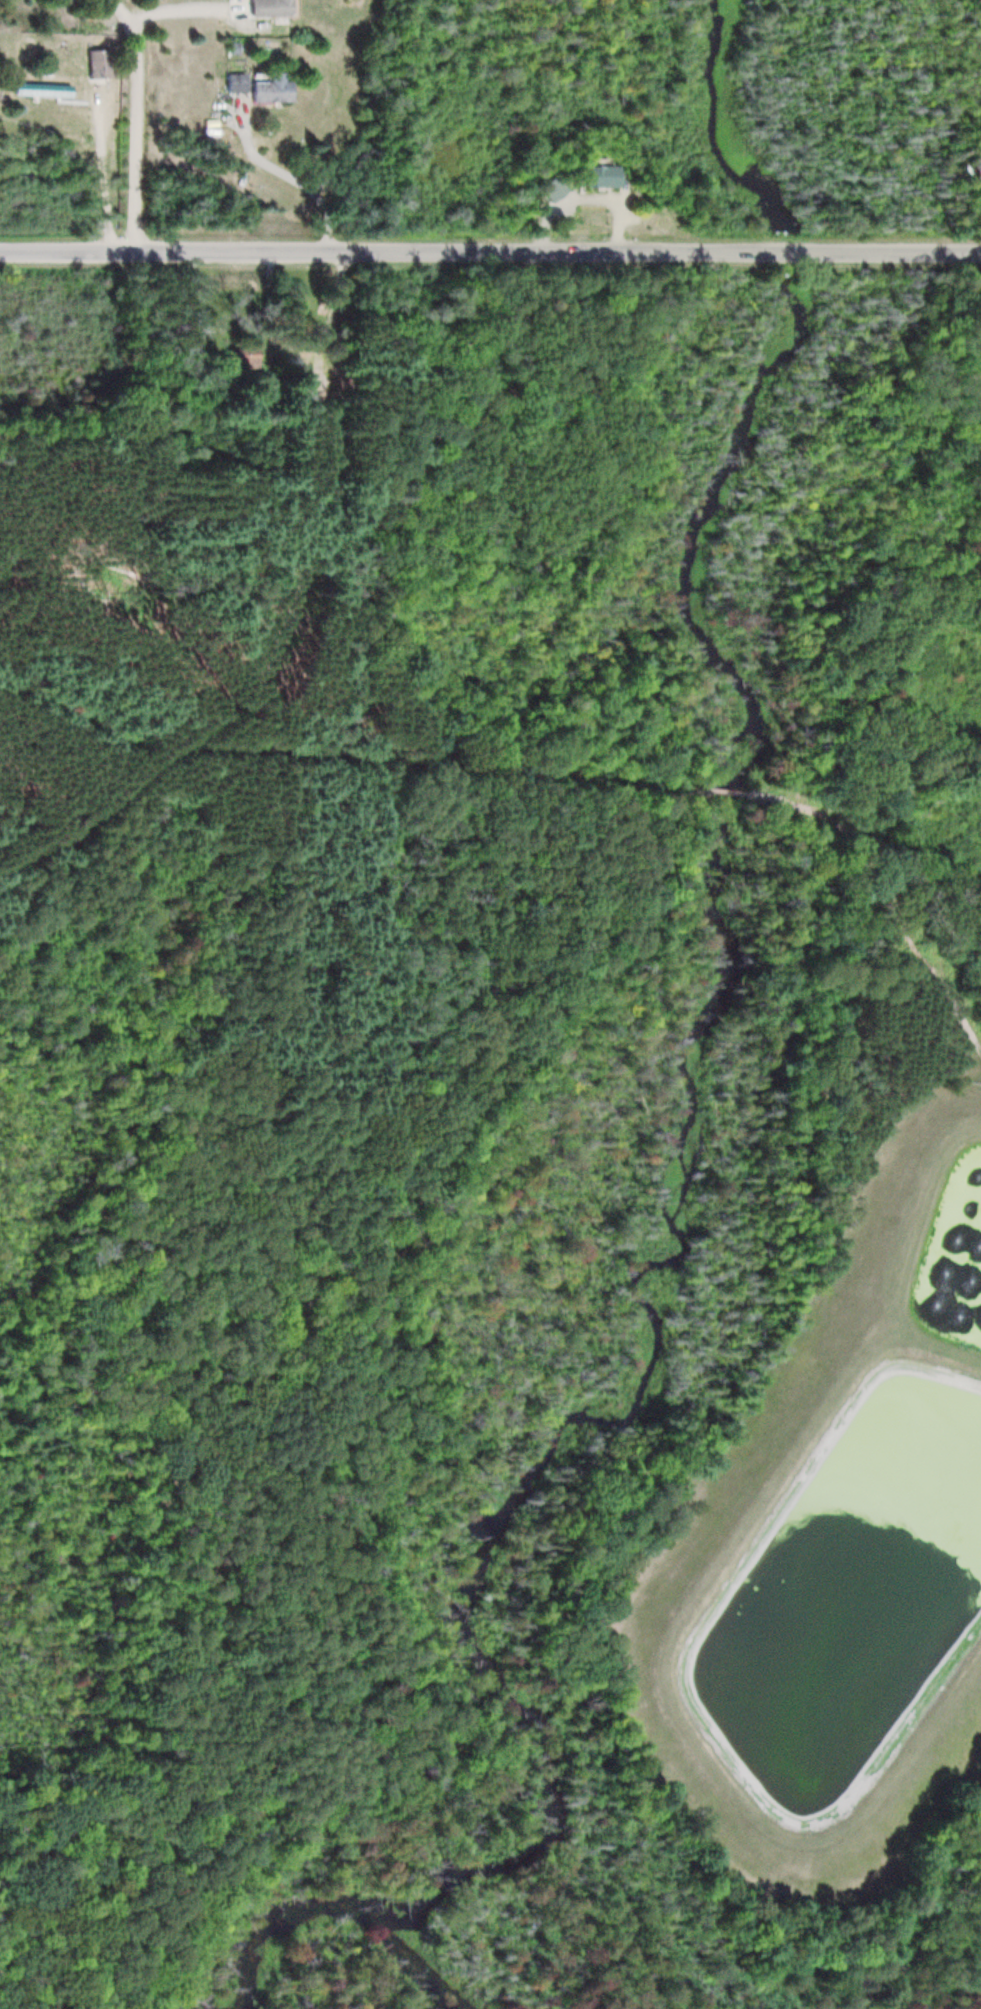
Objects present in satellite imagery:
building: (263, 7)
building: (95, 63)
building: (232, 82)
building: (37, 89)
building: (268, 89)
road: (136, 123)
building: (595, 176)
road: (490, 252)
road: (265, 329)
road: (329, 332)
building: (248, 354)
road: (188, 664)
road: (325, 738)
road: (137, 775)
road: (735, 792)
road: (884, 896)
wastewater plant: (831, 1542)

